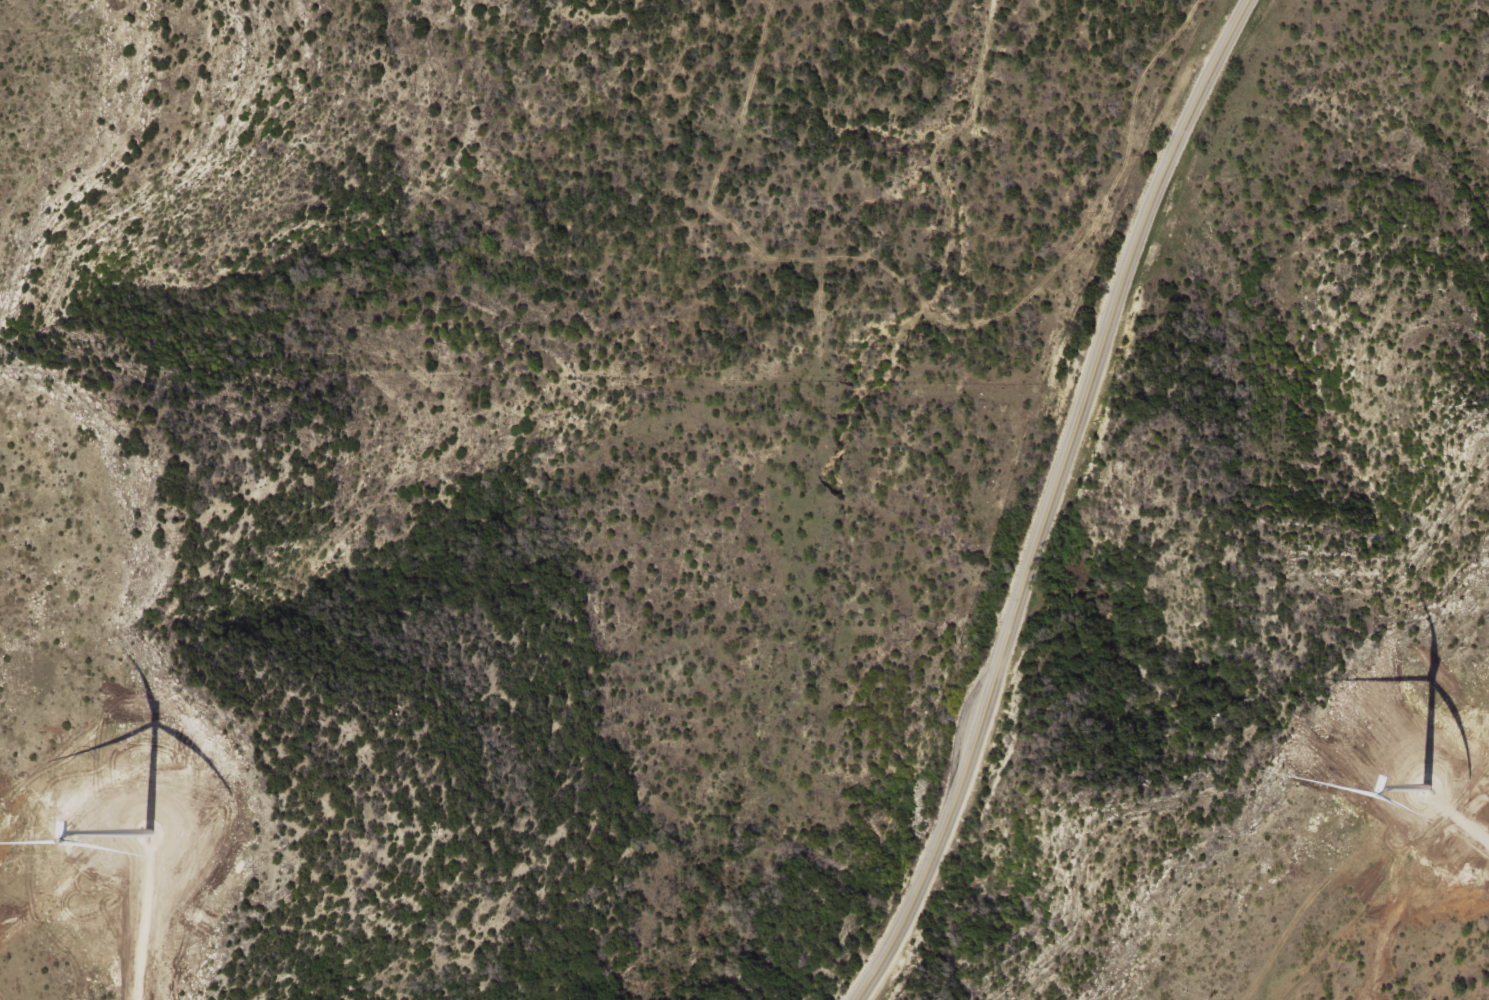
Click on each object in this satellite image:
road: (1054, 501)
wind turbine: (1427, 787)
wind turbine: (148, 823)

